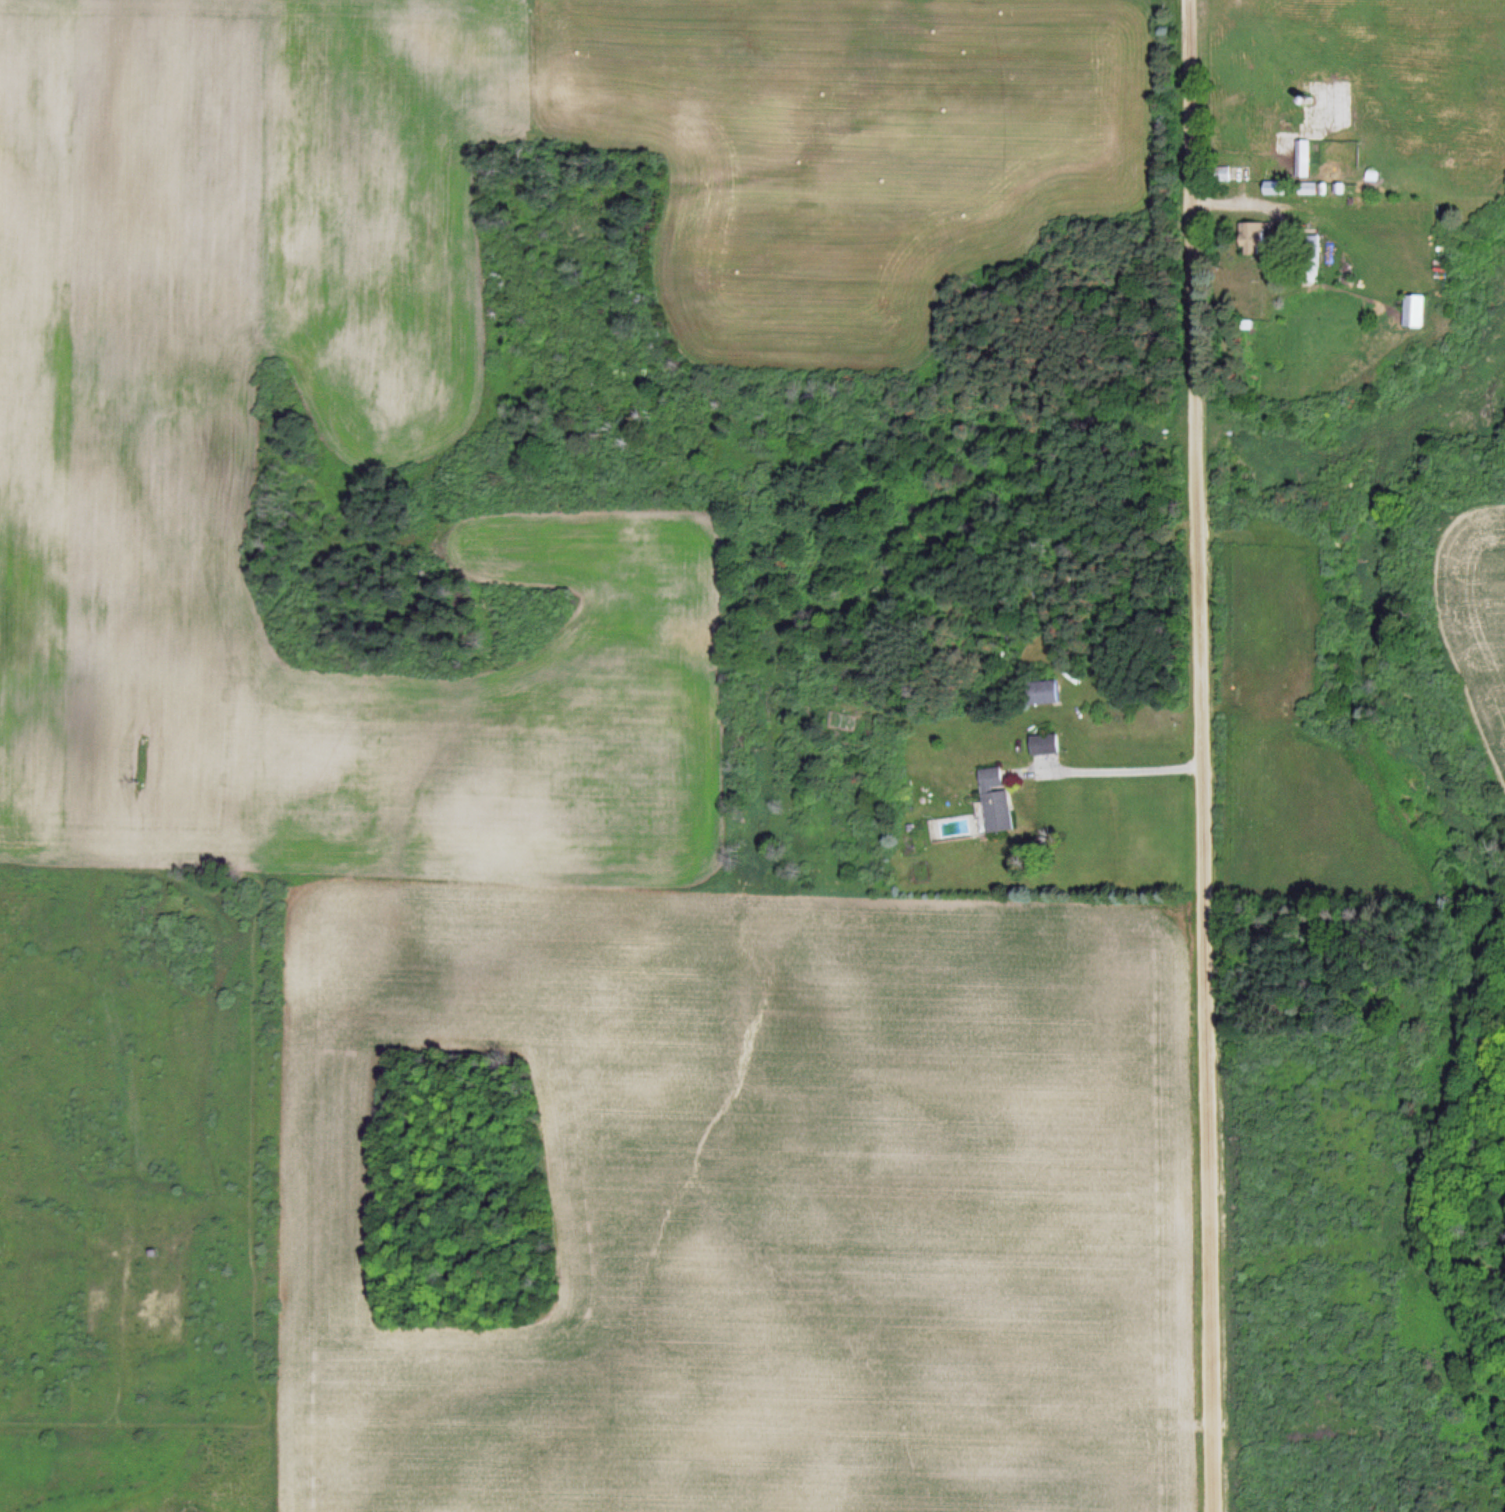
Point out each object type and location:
building: (1303, 159)
building: (1222, 174)
building: (1251, 240)
building: (1310, 261)
building: (1412, 312)
building: (1042, 693)
road: (1206, 755)
building: (996, 800)

